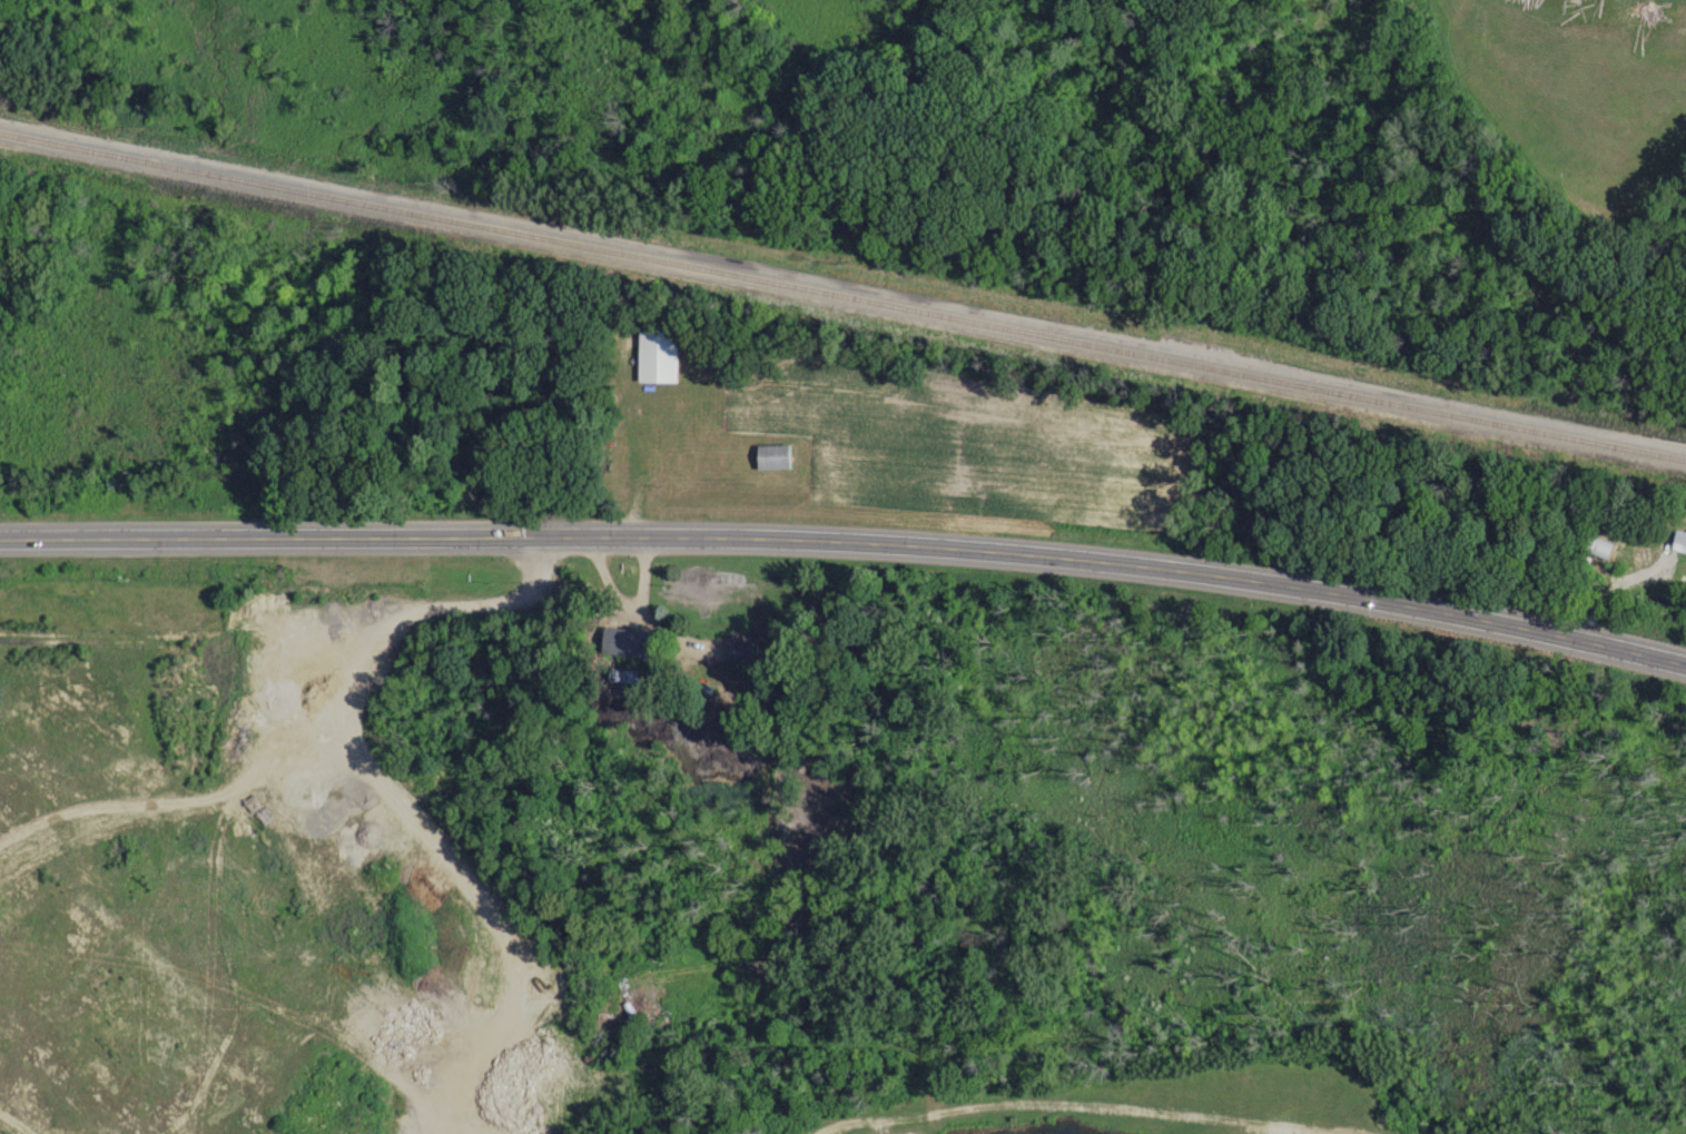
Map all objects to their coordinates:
river: (1381, 250)
railway: (842, 293)
building: (655, 354)
building: (771, 455)
road: (847, 540)
building: (1679, 541)
road: (647, 576)
road: (637, 614)
building: (628, 642)
building: (742, 647)
building: (633, 1007)

